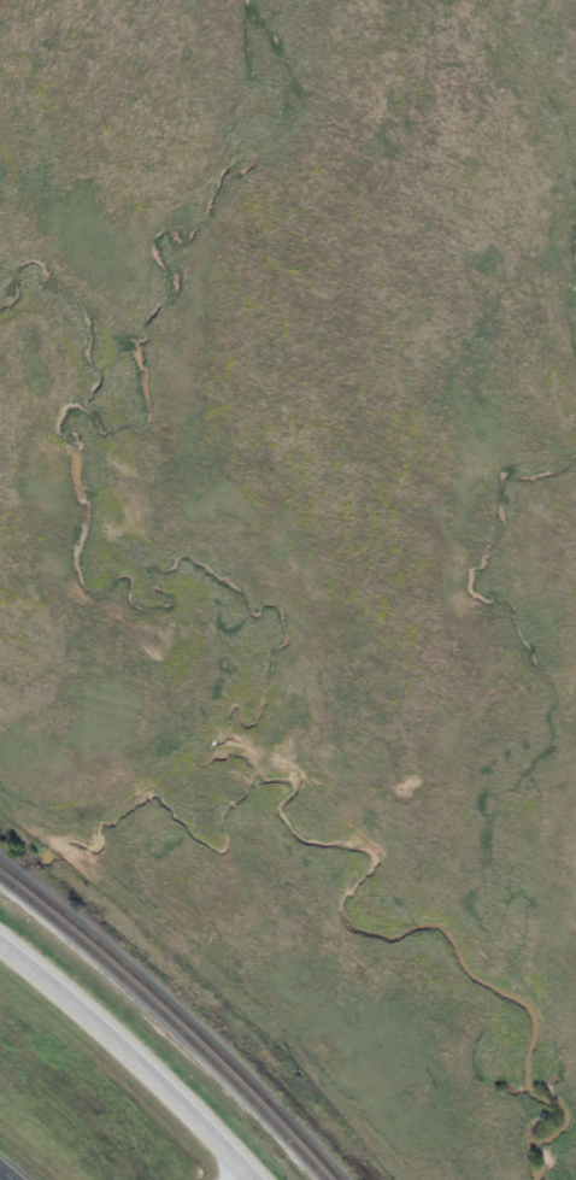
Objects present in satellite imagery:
railway: (176, 1014)
railway: (166, 1023)
road: (134, 1055)
road: (14, 1167)
road: (237, 1173)

